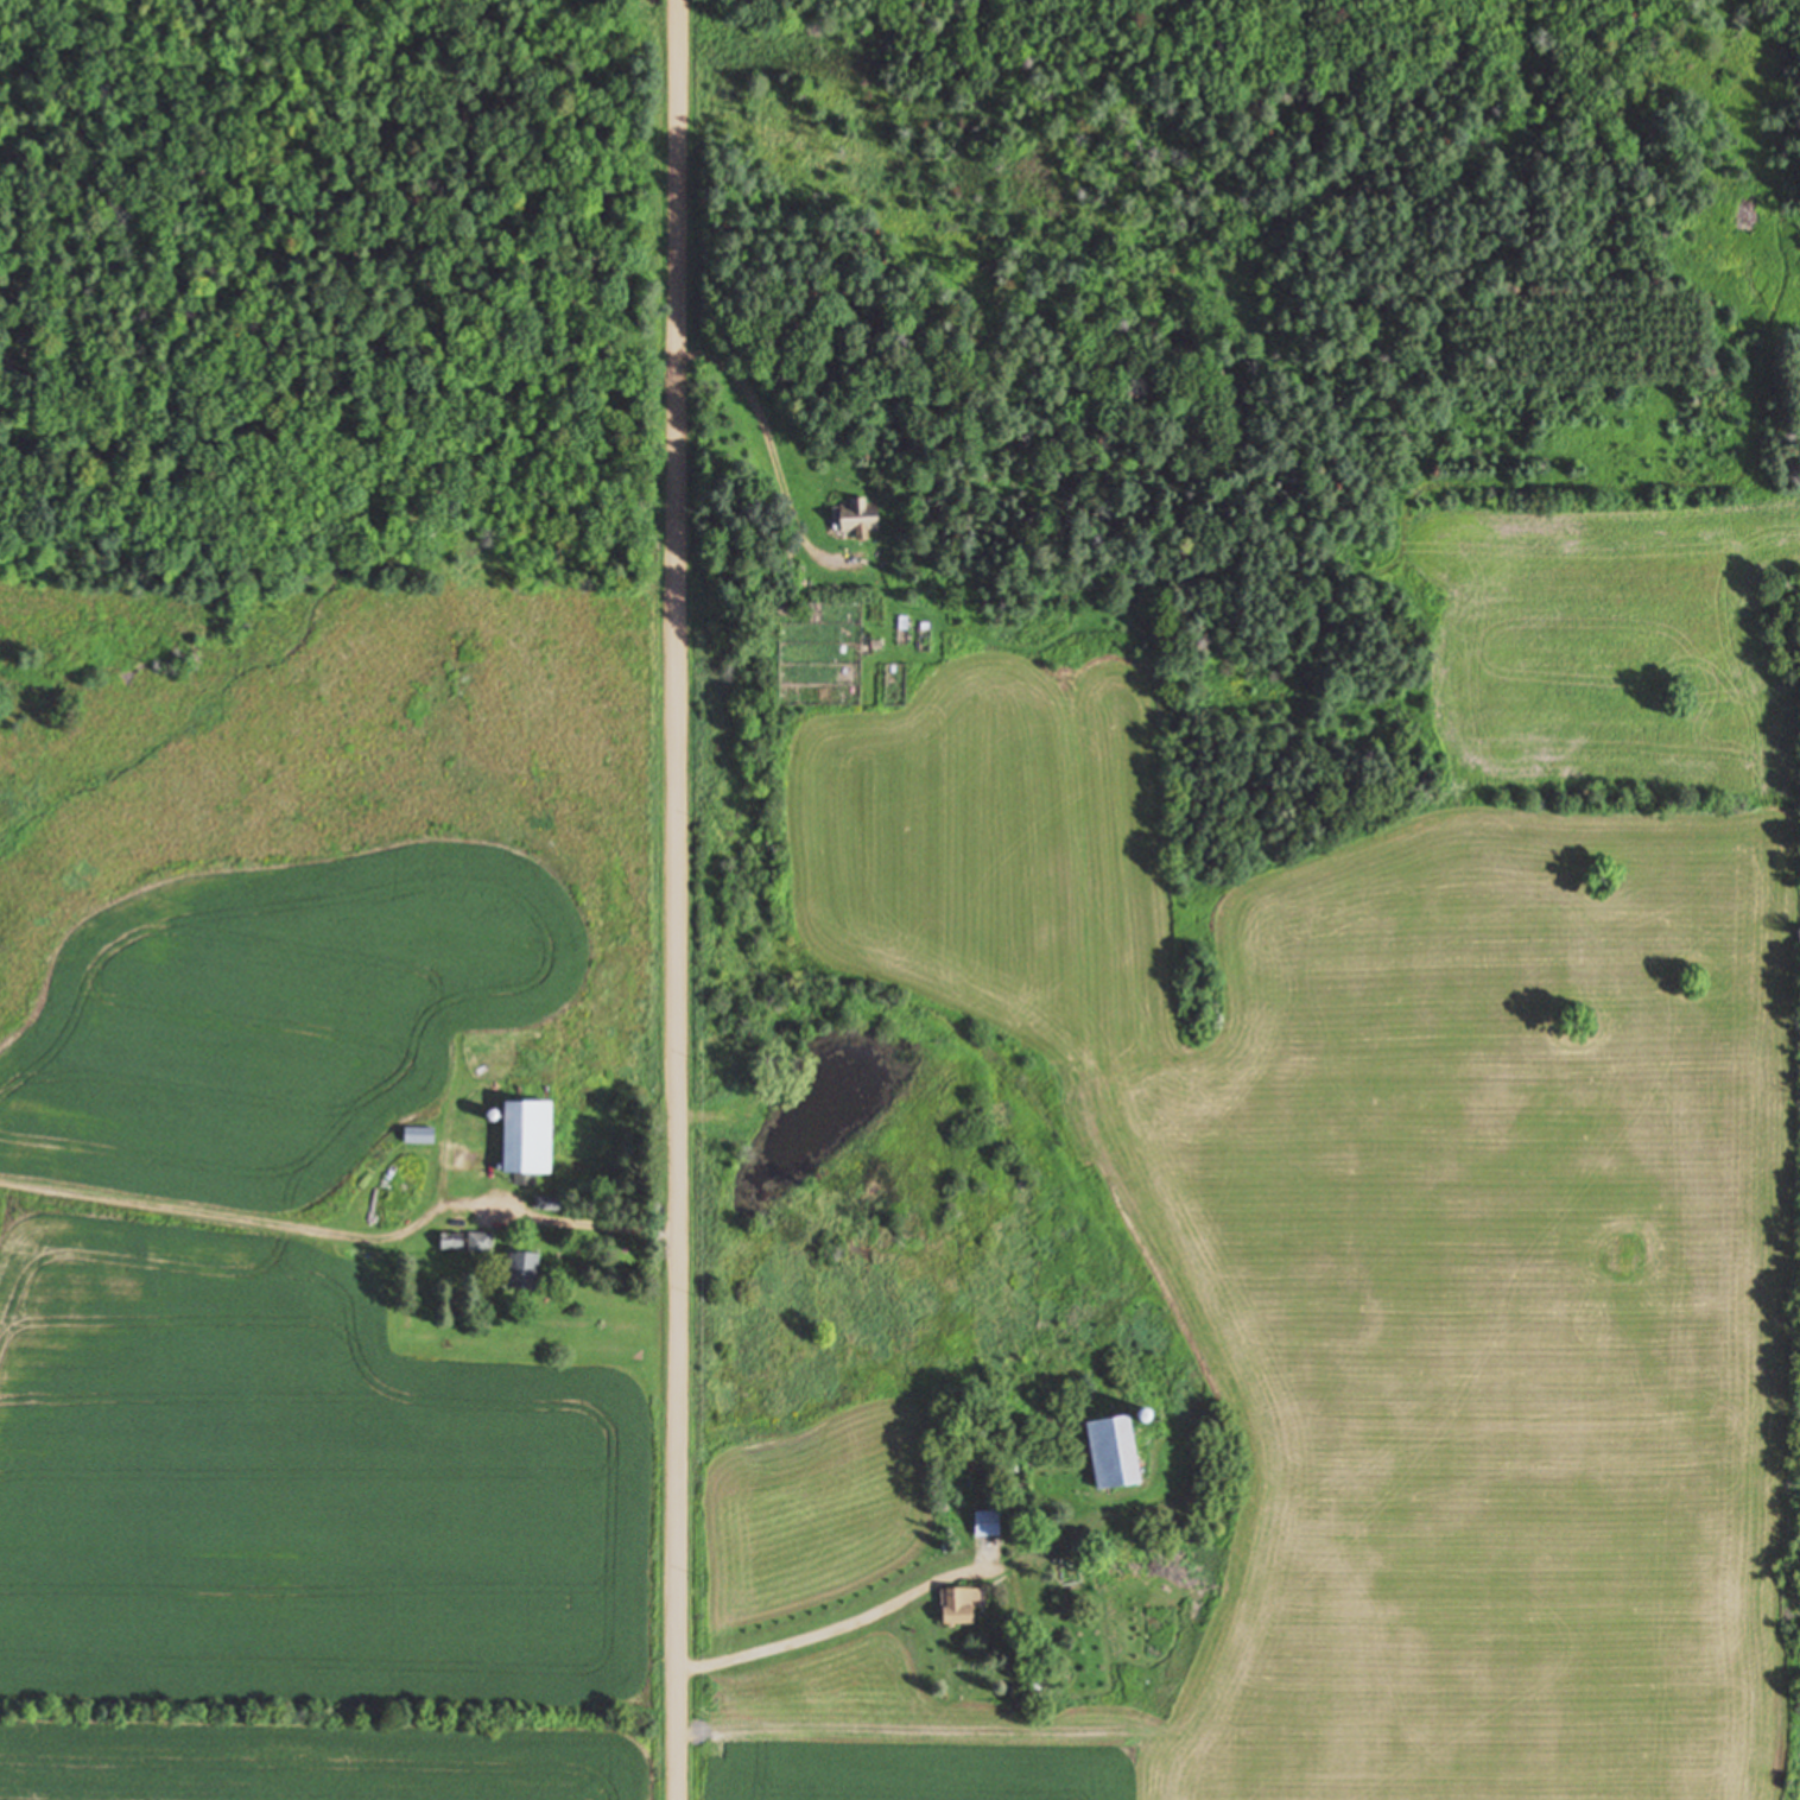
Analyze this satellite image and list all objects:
road: (677, 899)
building: (522, 1141)
building: (459, 1241)
building: (520, 1268)
building: (1110, 1446)
building: (983, 1526)
building: (957, 1608)

